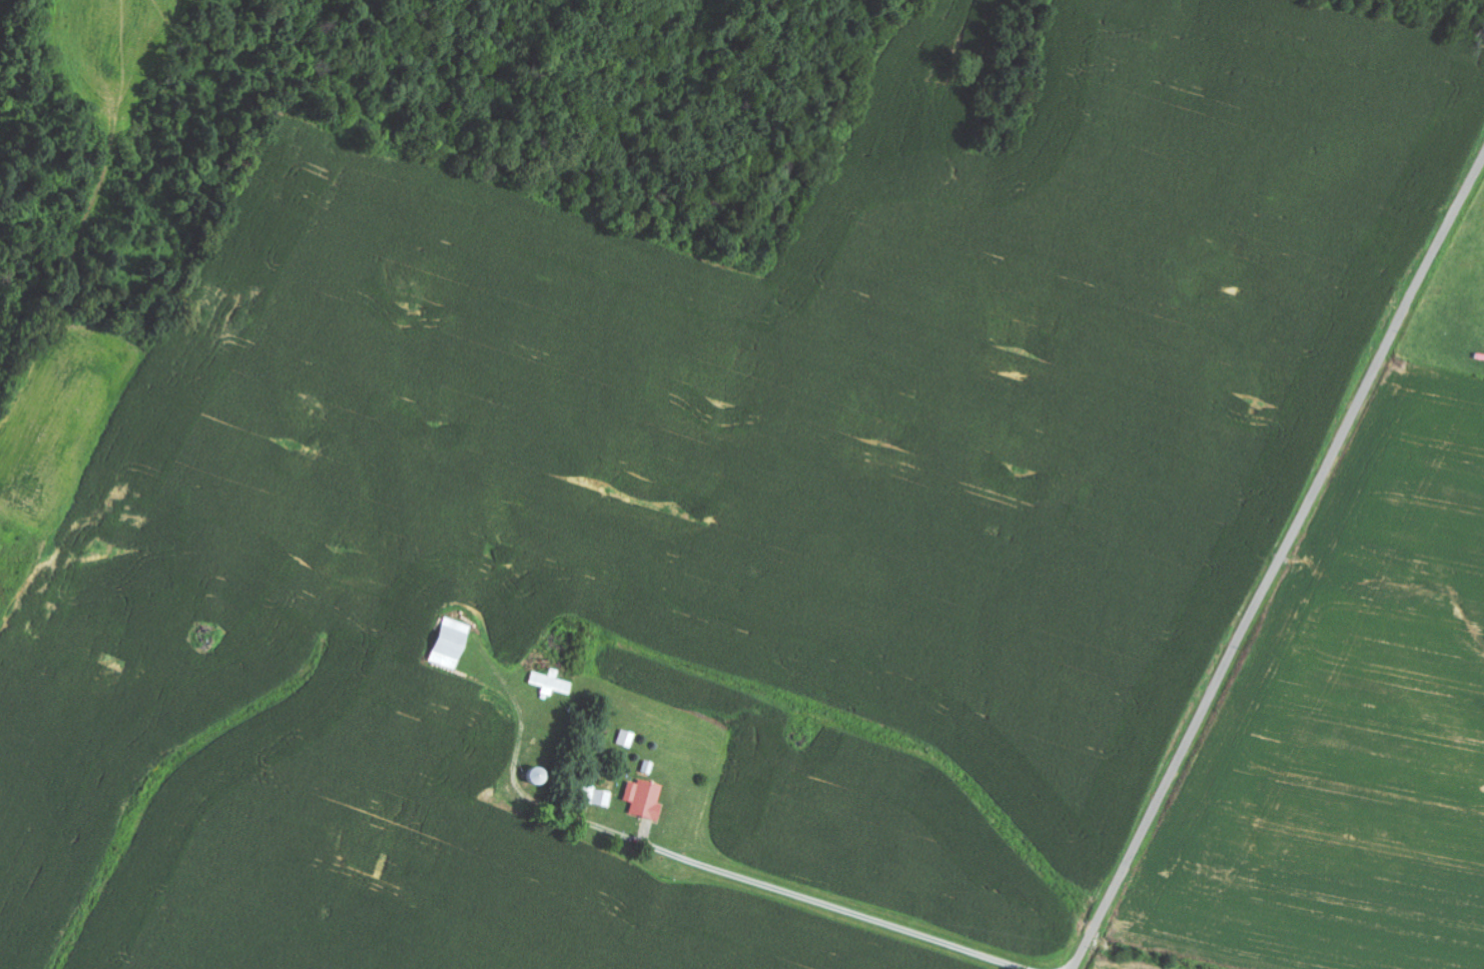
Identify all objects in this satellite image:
road: (1278, 562)
building: (451, 644)
building: (552, 682)
building: (627, 739)
building: (600, 797)
building: (645, 798)

